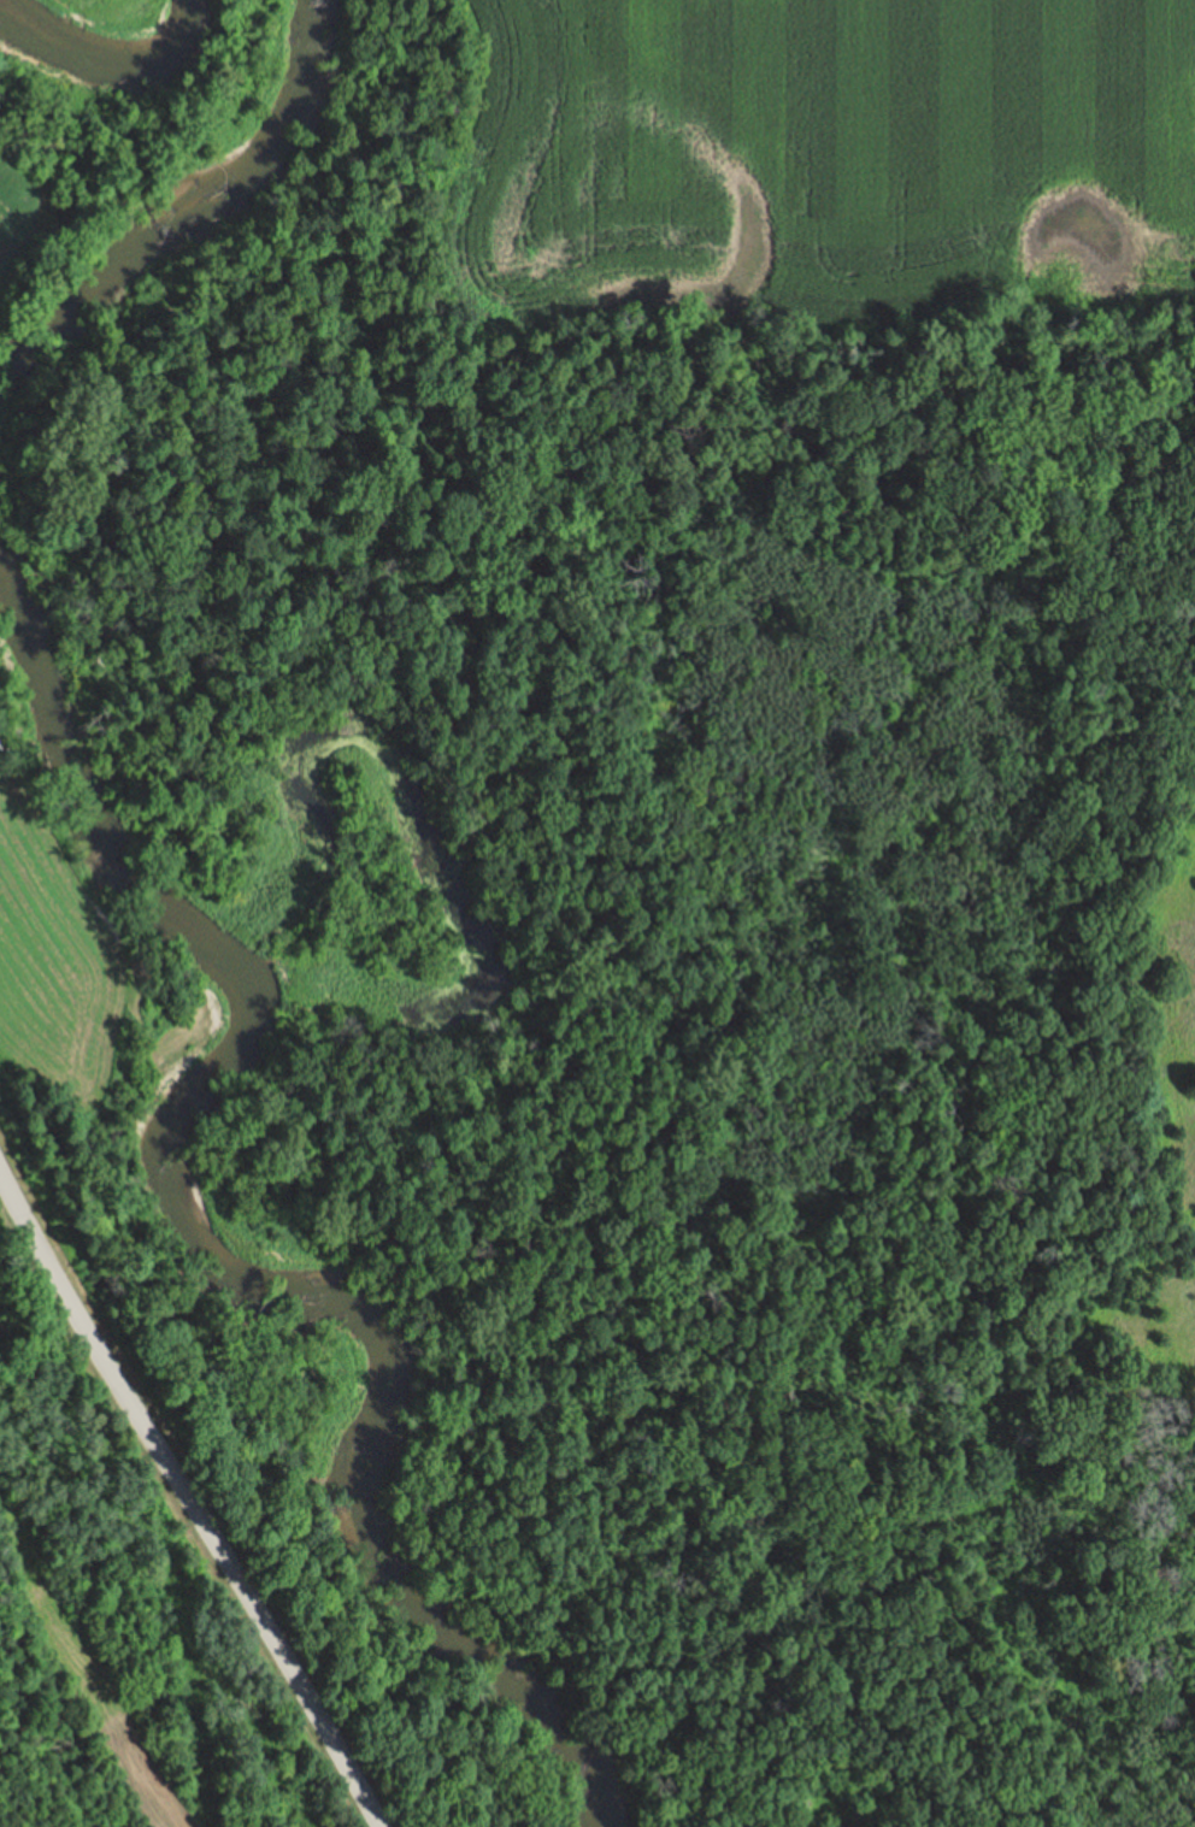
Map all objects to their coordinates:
river: (101, 46)
river: (186, 202)
river: (208, 1244)
road: (186, 1501)

